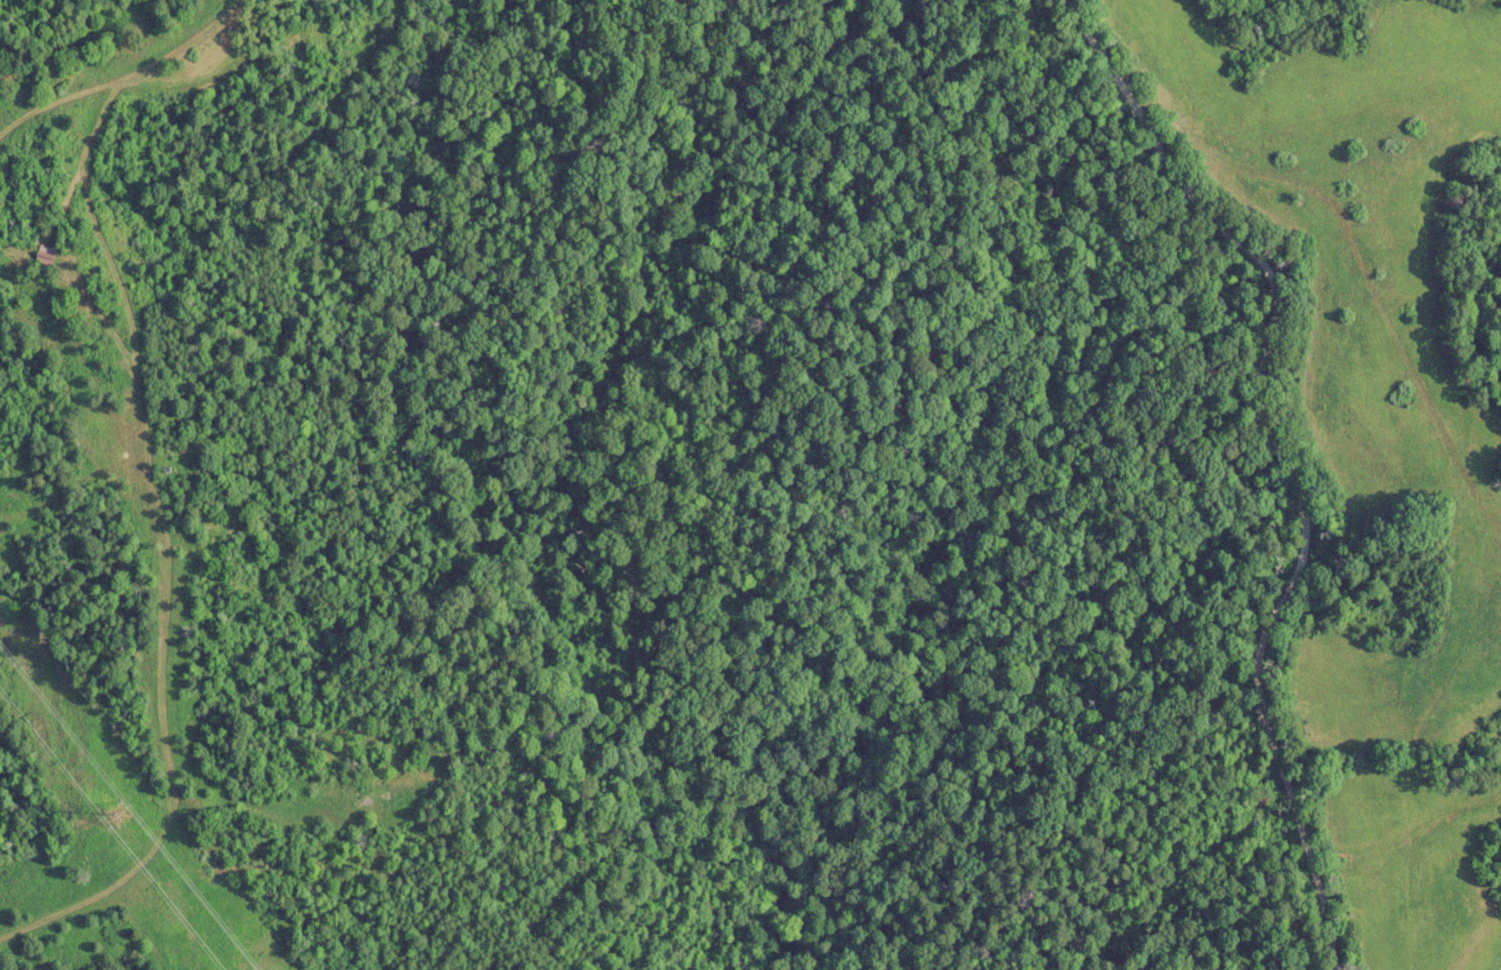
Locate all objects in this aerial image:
road: (1254, 456)

